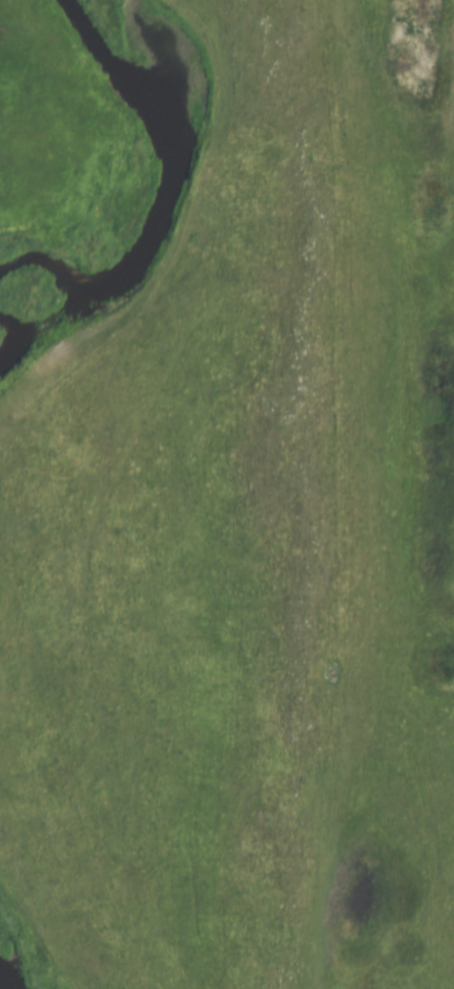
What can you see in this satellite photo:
river: (157, 190)
river: (2, 337)

